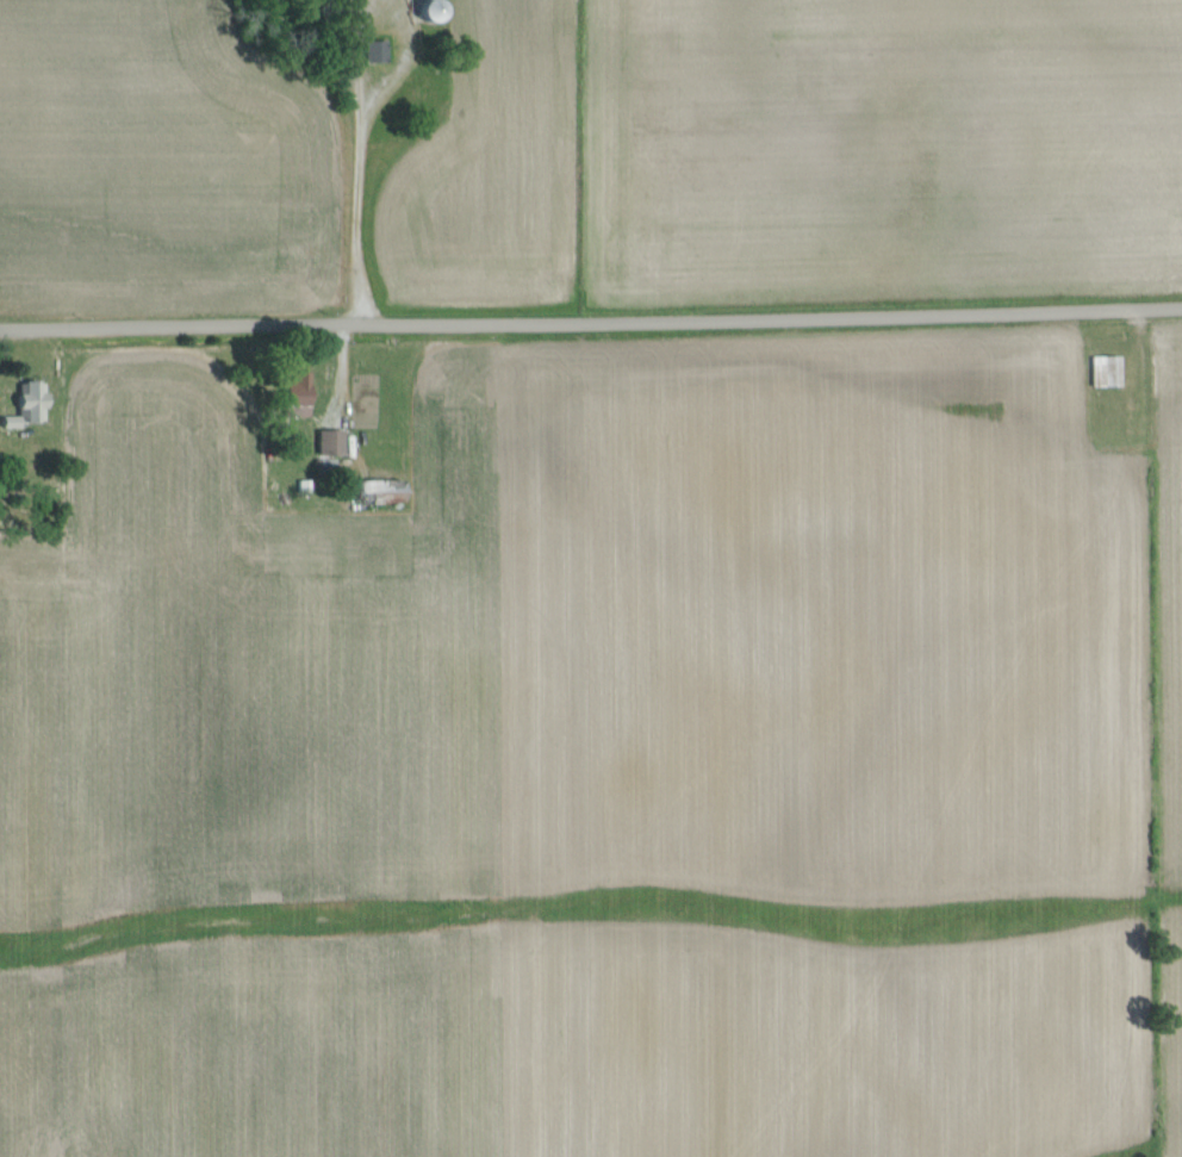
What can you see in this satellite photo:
building: (377, 50)
road: (348, 168)
road: (591, 319)
building: (1106, 371)
building: (33, 400)
building: (331, 442)
building: (382, 489)

